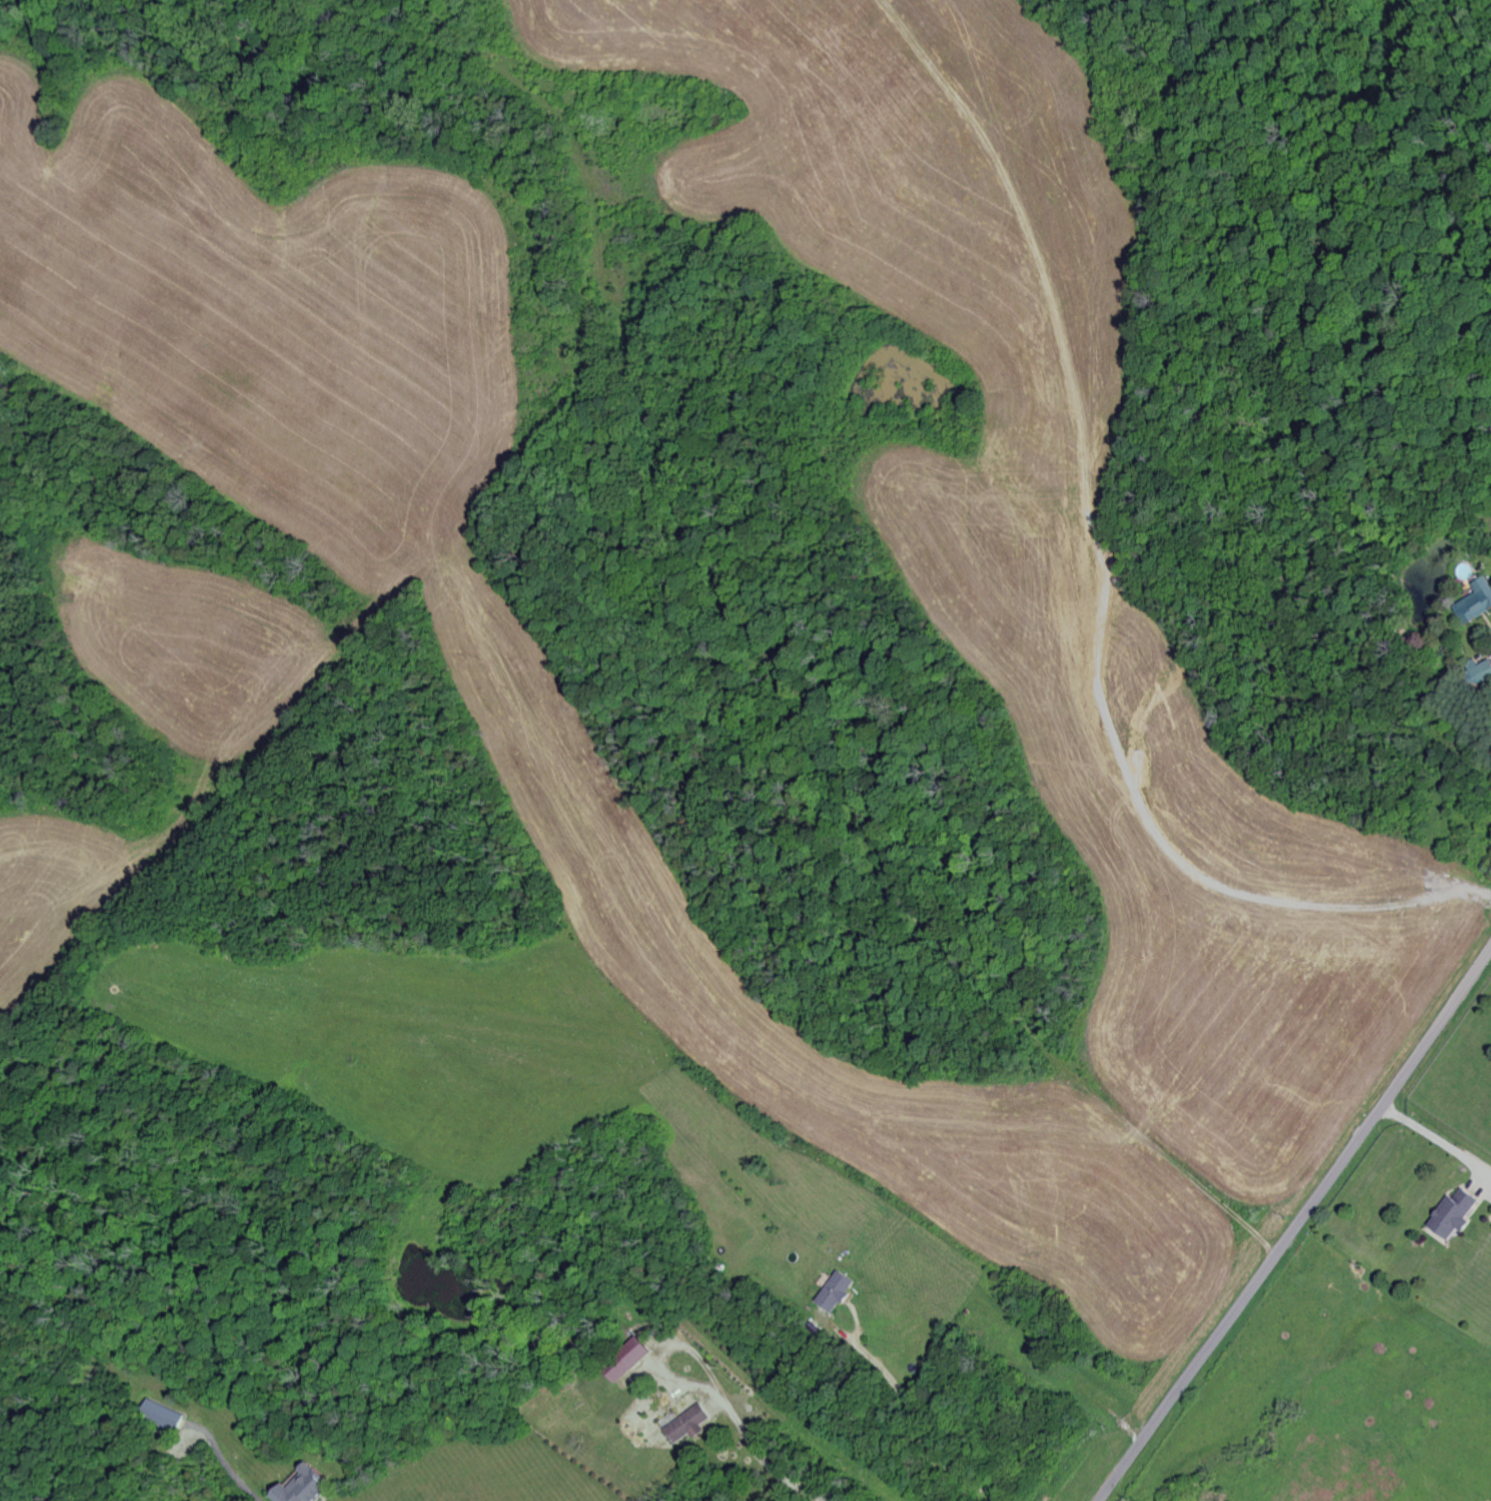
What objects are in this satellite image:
building: (1477, 602)
road: (791, 621)
building: (1483, 673)
road: (1439, 1144)
building: (1459, 1214)
road: (1297, 1228)
building: (839, 1293)
road: (668, 1350)
building: (629, 1360)
road: (916, 1418)
building: (166, 1420)
building: (690, 1426)
road: (765, 1460)
building: (307, 1488)

